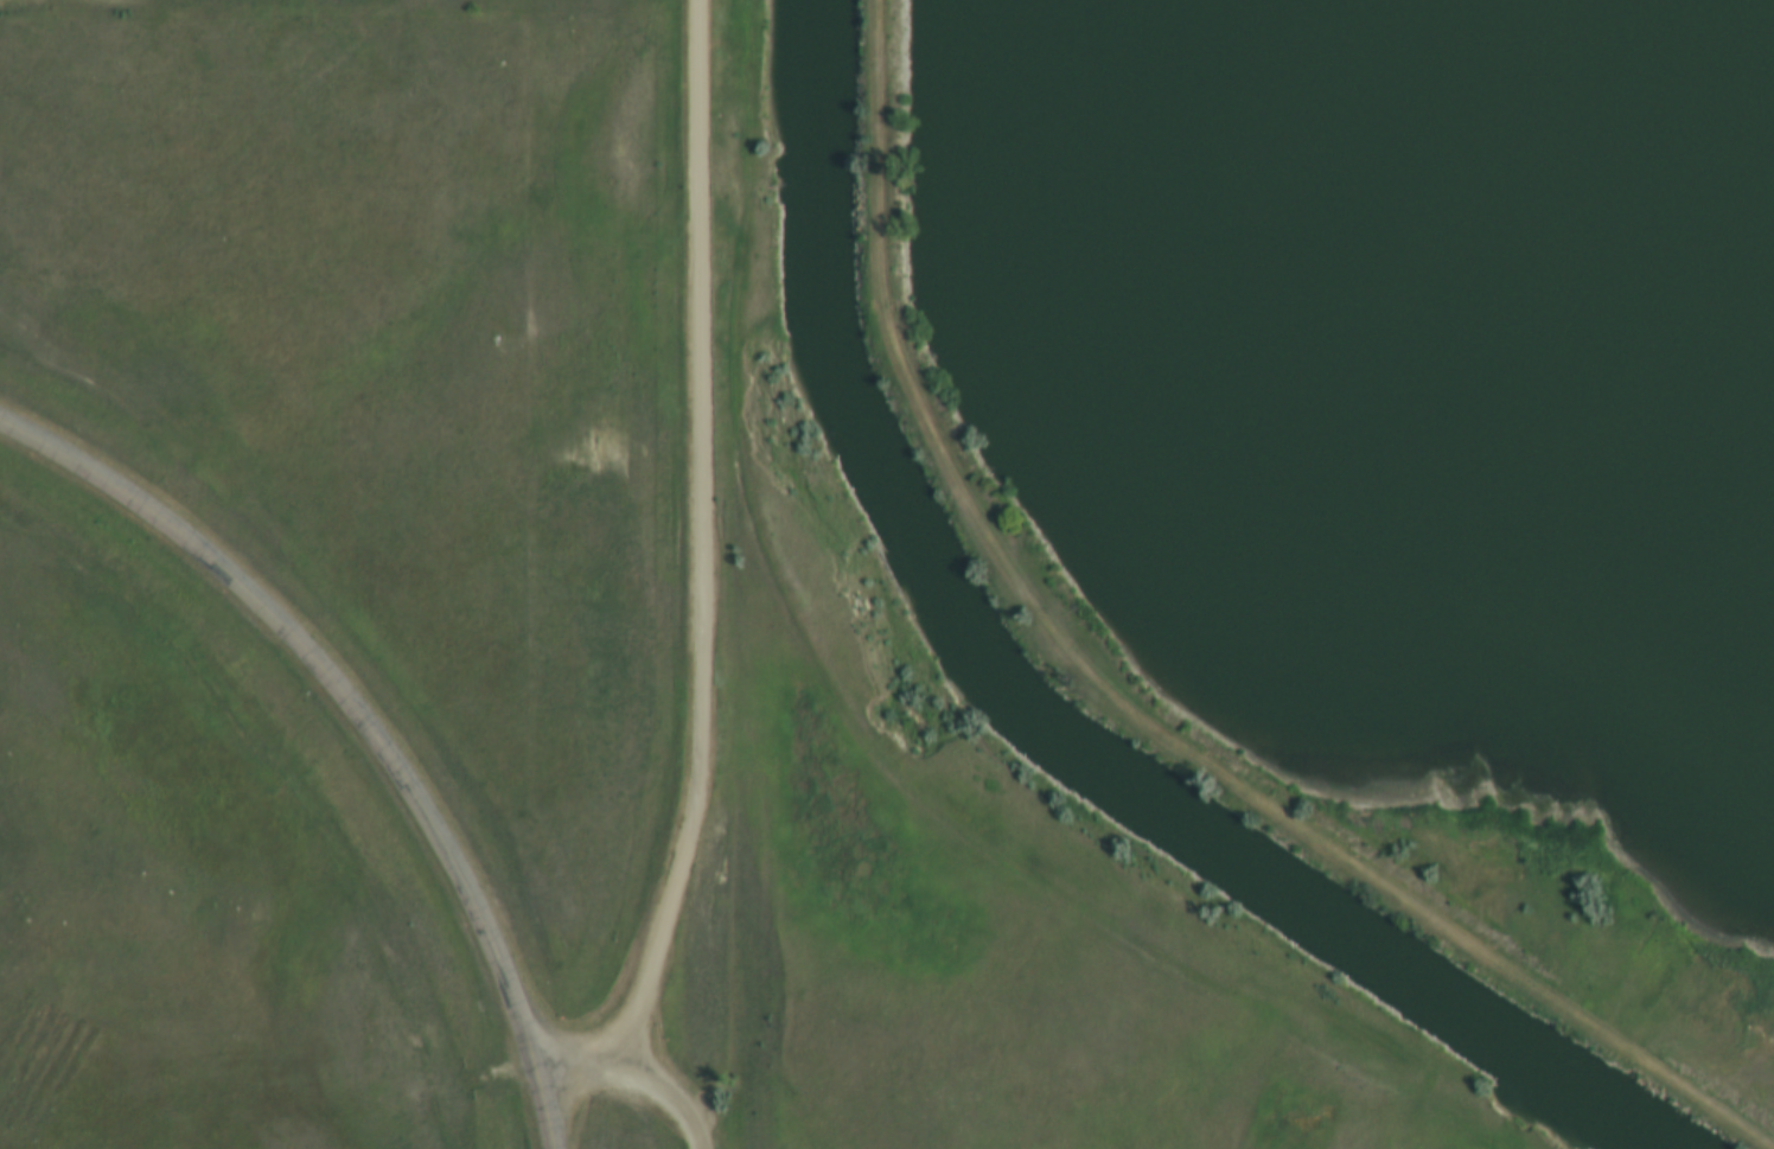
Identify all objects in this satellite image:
road: (694, 579)
road: (336, 692)
road: (1125, 706)
road: (674, 1093)
road: (542, 1111)

